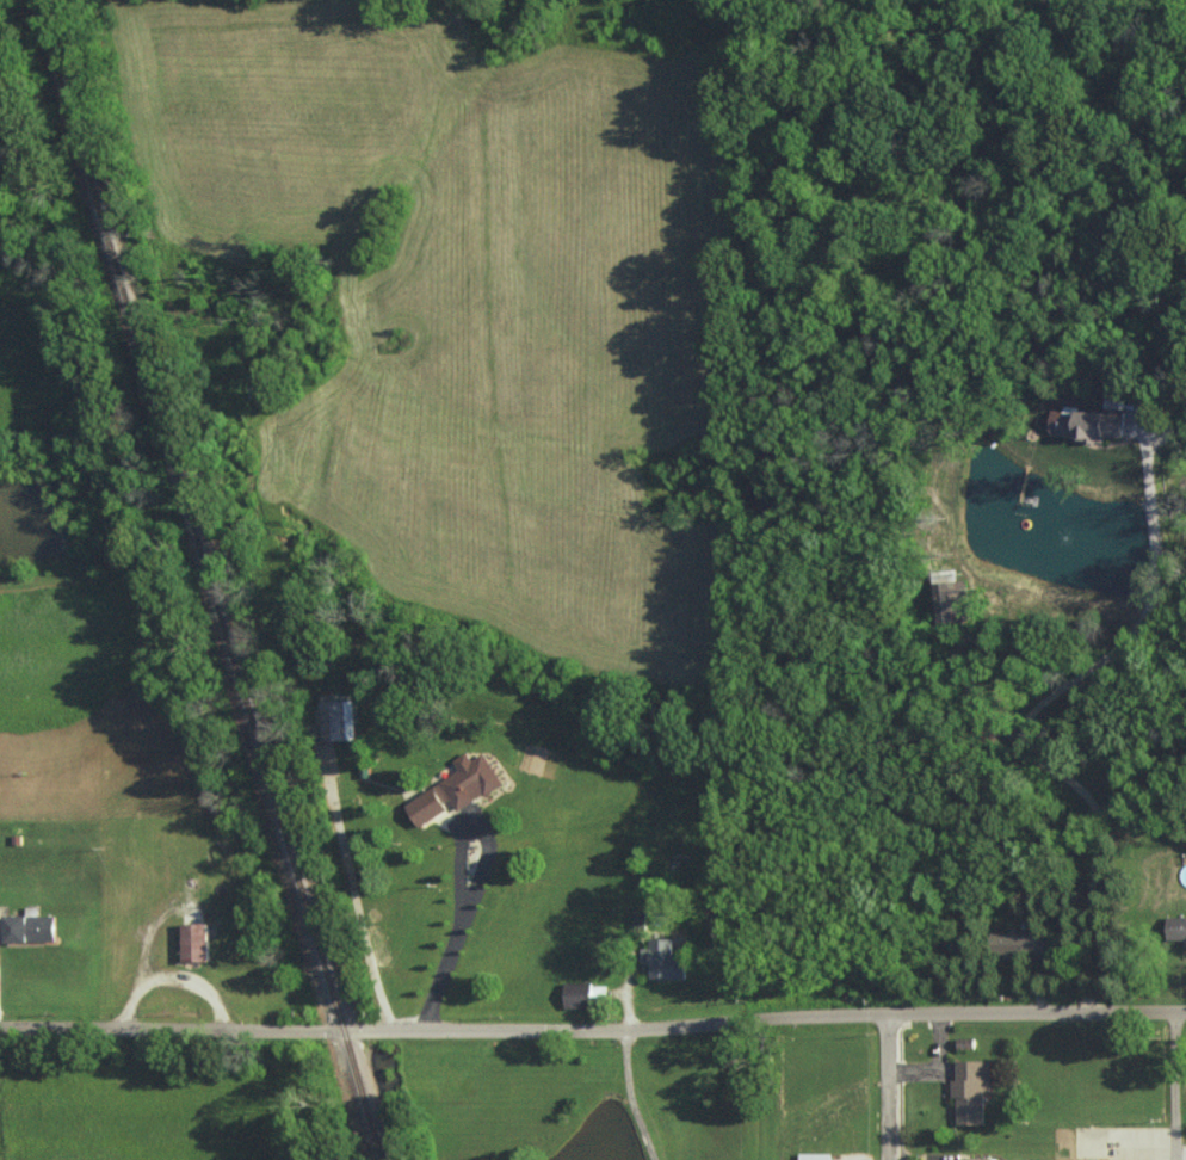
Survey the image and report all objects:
building: (1091, 420)
railway: (217, 579)
building: (945, 599)
building: (336, 718)
building: (455, 789)
road: (475, 890)
building: (29, 927)
building: (1176, 927)
building: (194, 942)
building: (1019, 943)
building: (663, 960)
building: (576, 994)
road: (593, 1036)
road: (887, 1090)
building: (970, 1090)
road: (1174, 1090)
road: (631, 1099)
building: (815, 1155)
building: (978, 1158)

